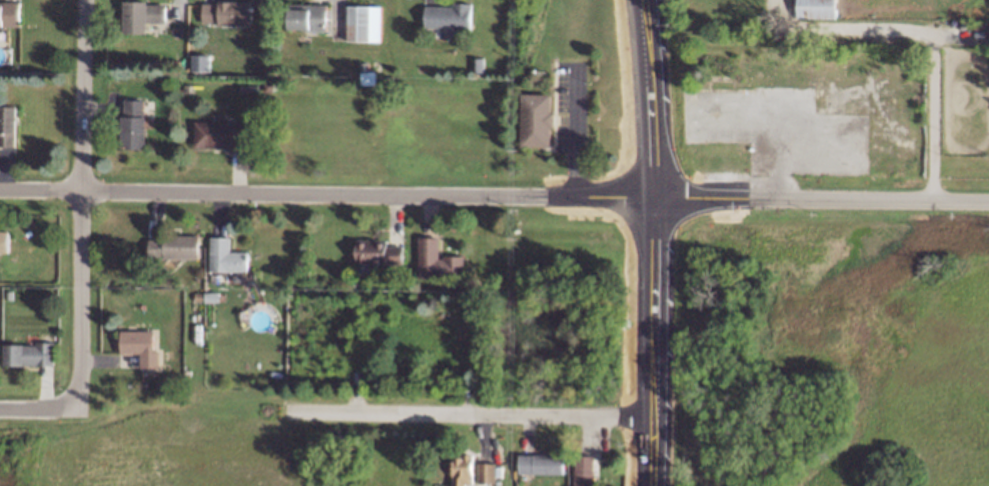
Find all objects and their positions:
building: (817, 9)
building: (226, 15)
building: (10, 16)
building: (140, 16)
building: (304, 18)
building: (447, 18)
building: (364, 23)
road: (931, 31)
road: (960, 31)
road: (649, 42)
road: (658, 42)
building: (200, 62)
building: (762, 70)
building: (366, 74)
building: (537, 122)
building: (133, 126)
building: (8, 127)
road: (574, 131)
building: (218, 136)
road: (111, 189)
road: (438, 193)
road: (821, 197)
road: (81, 224)
building: (3, 243)
building: (175, 249)
building: (379, 256)
building: (228, 260)
building: (440, 262)
road: (652, 285)
crop: (886, 340)
building: (136, 346)
building: (30, 357)
road: (12, 407)
road: (471, 417)
crop: (174, 452)
crop: (389, 463)
building: (539, 464)
building: (470, 473)
building: (585, 473)

